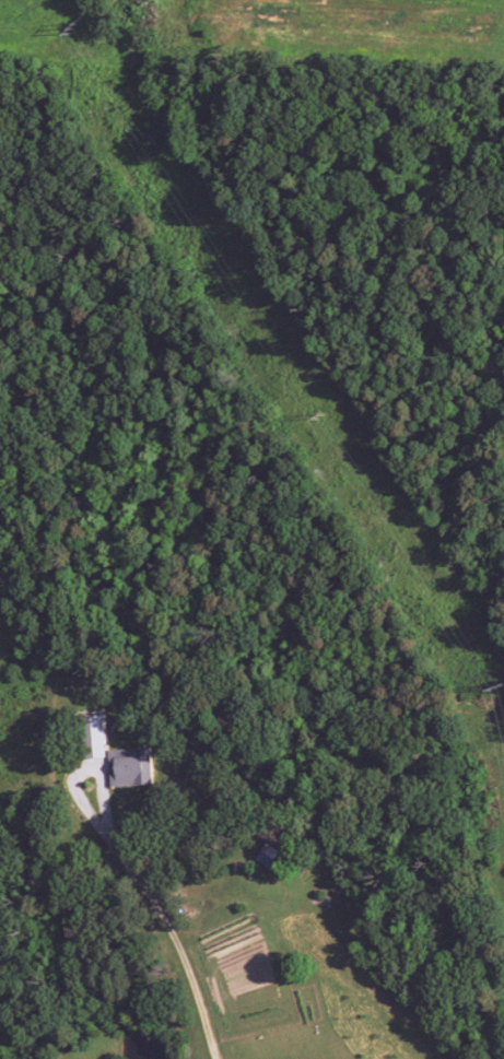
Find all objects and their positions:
building: (93, 734)
building: (129, 767)
road: (97, 824)
building: (269, 856)
road: (199, 1005)

